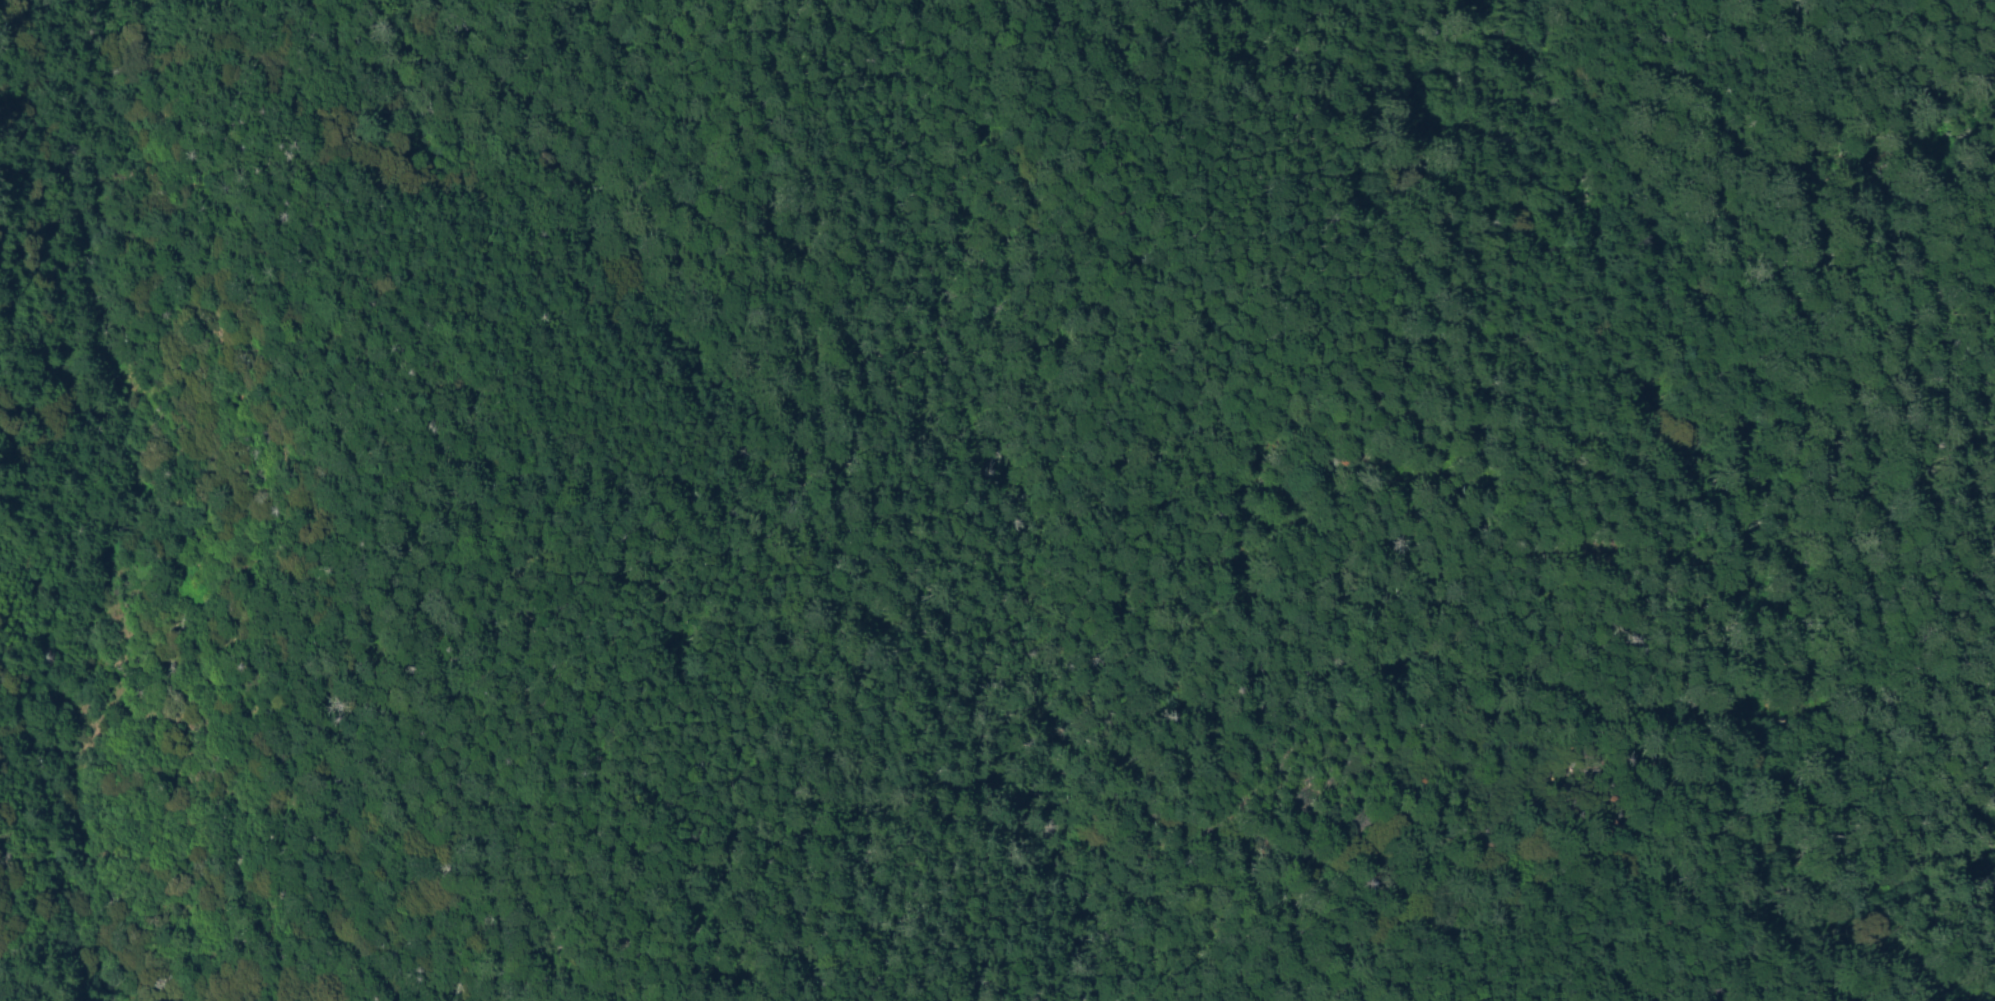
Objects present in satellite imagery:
road: (1839, 459)

